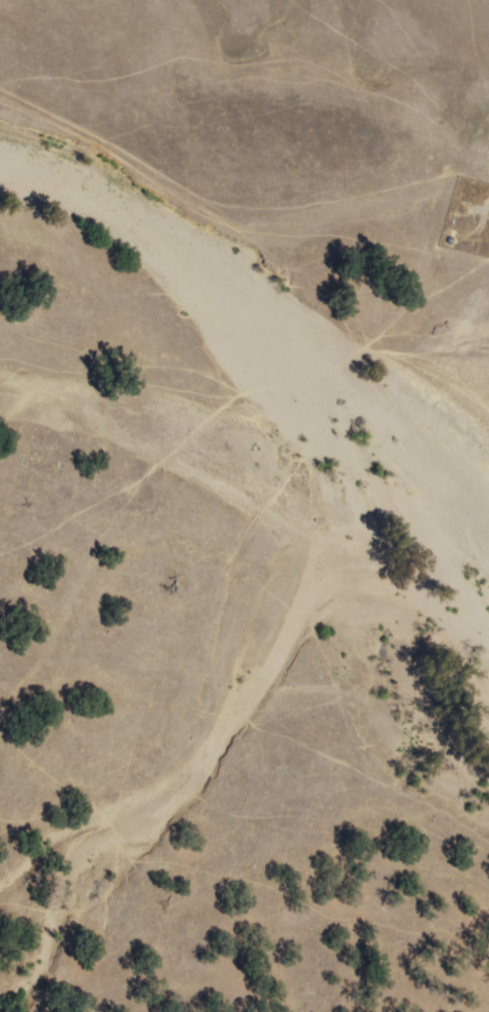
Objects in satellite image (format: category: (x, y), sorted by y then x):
road: (480, 210)
river: (260, 323)

